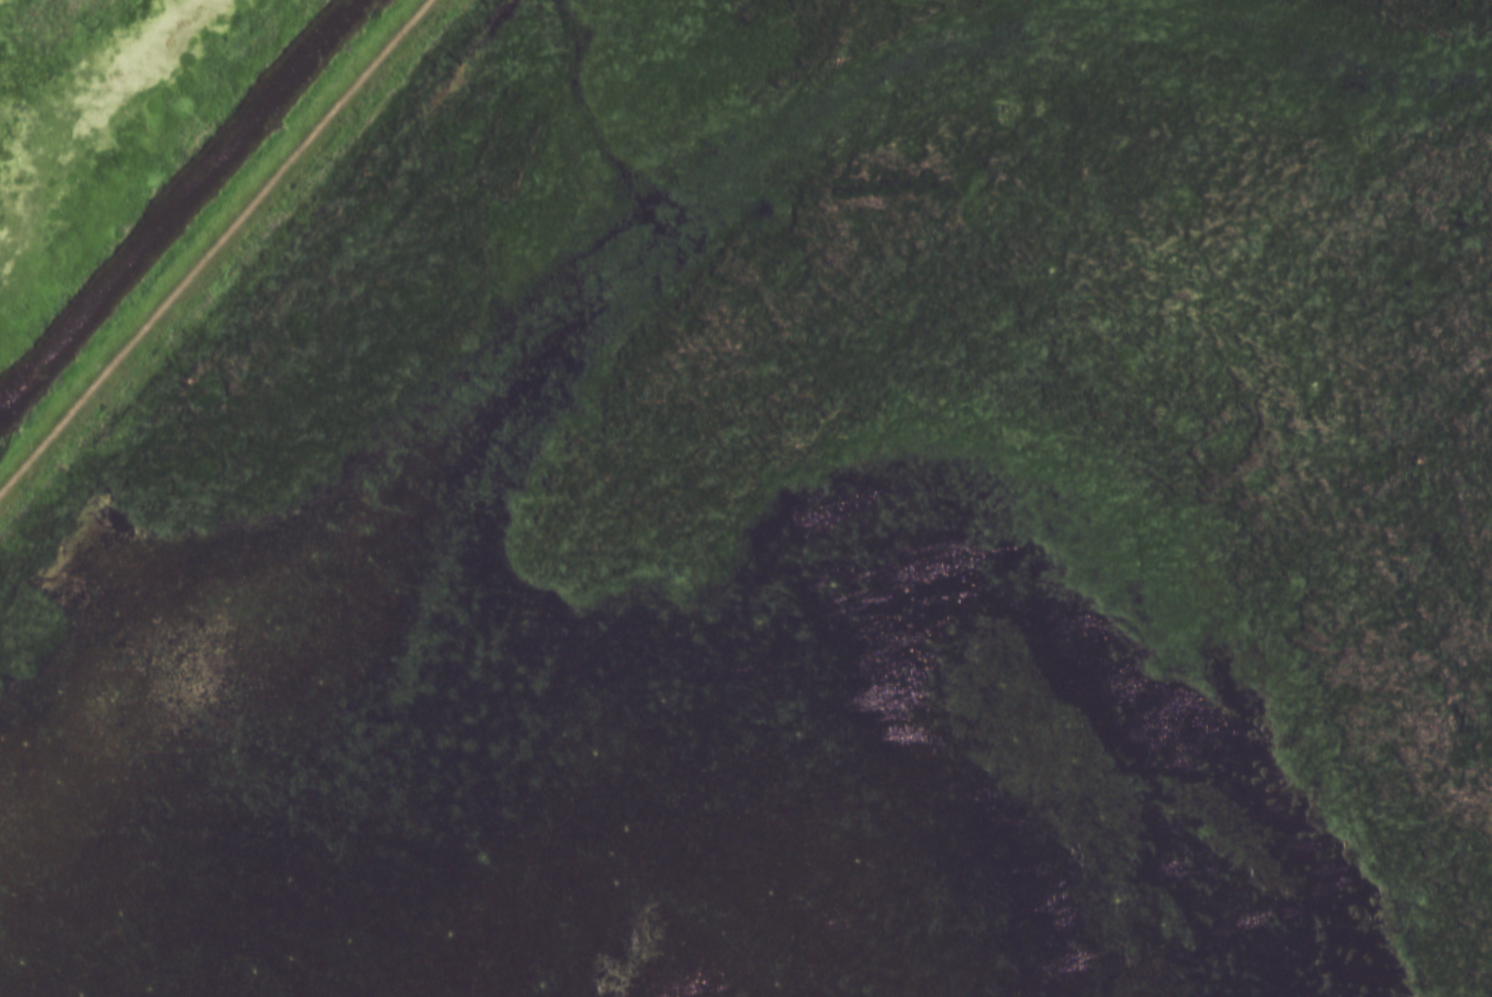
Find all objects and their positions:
road: (214, 246)
dam: (226, 263)

